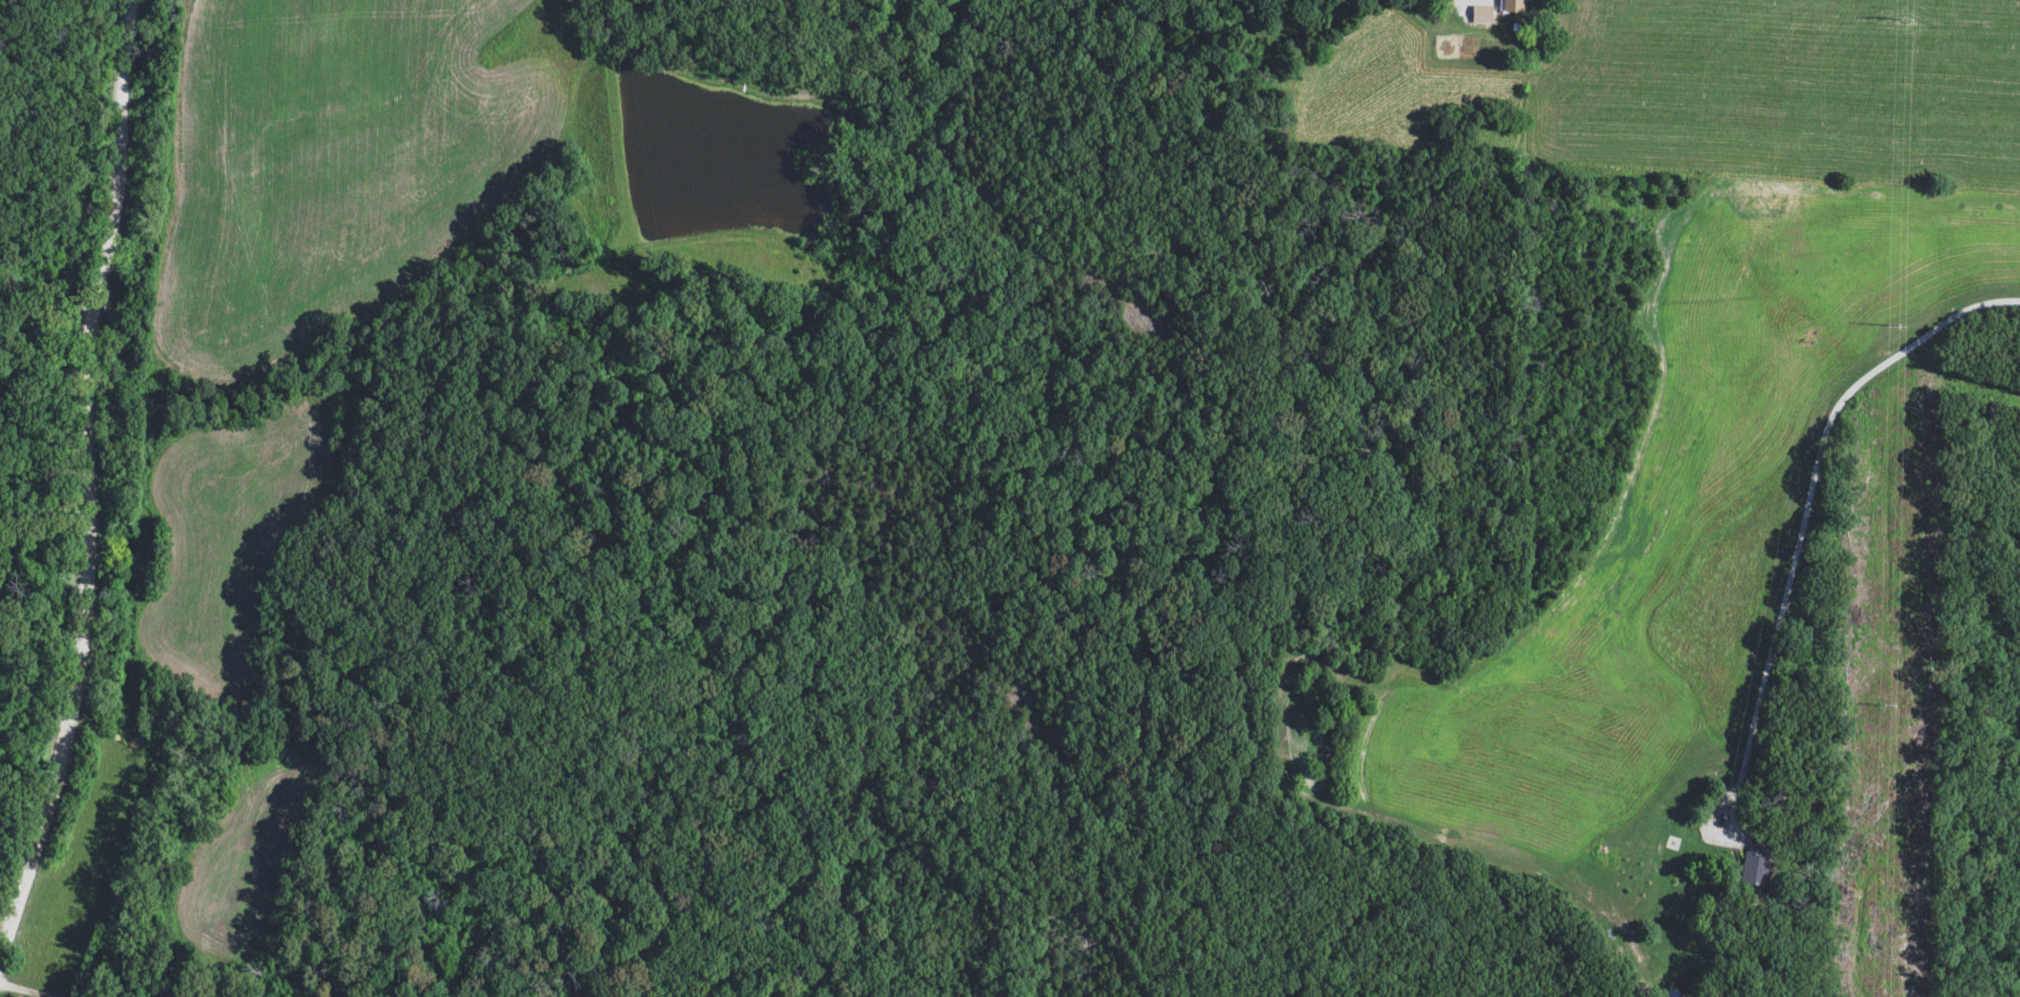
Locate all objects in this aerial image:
road: (1461, 1)
building: (1512, 6)
power tower: (1894, 16)
power tower: (1890, 330)
road: (99, 487)
road: (1804, 513)
power tower: (1879, 708)
building: (1756, 862)

